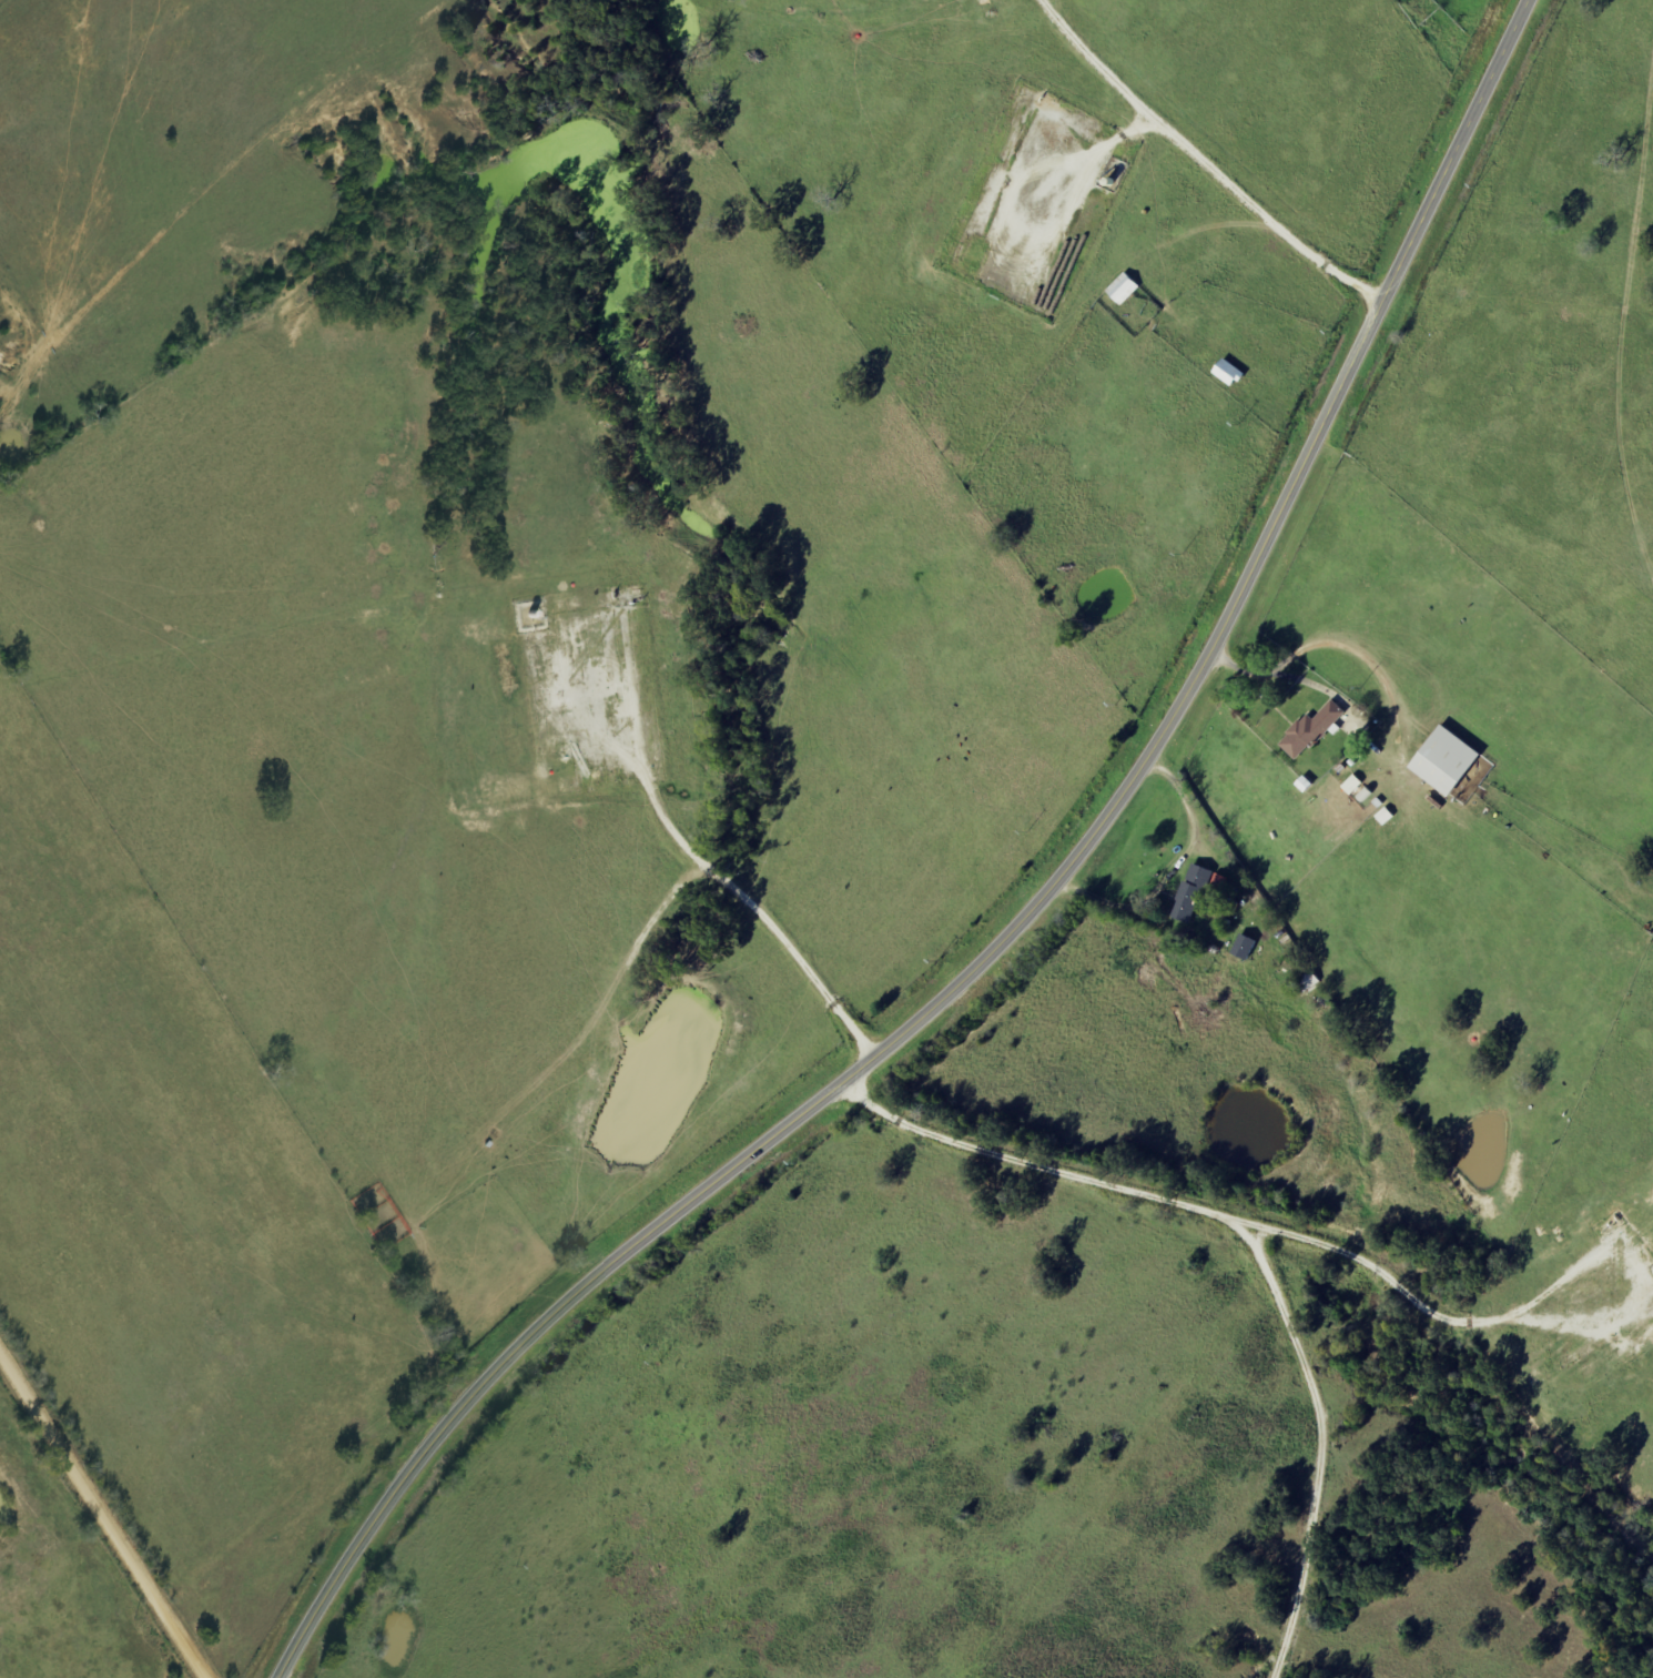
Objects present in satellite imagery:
building: (1128, 290)
building: (1235, 374)
building: (1317, 732)
building: (1453, 762)
building: (1191, 893)
road: (1014, 924)
building: (1245, 947)
road: (108, 1537)

